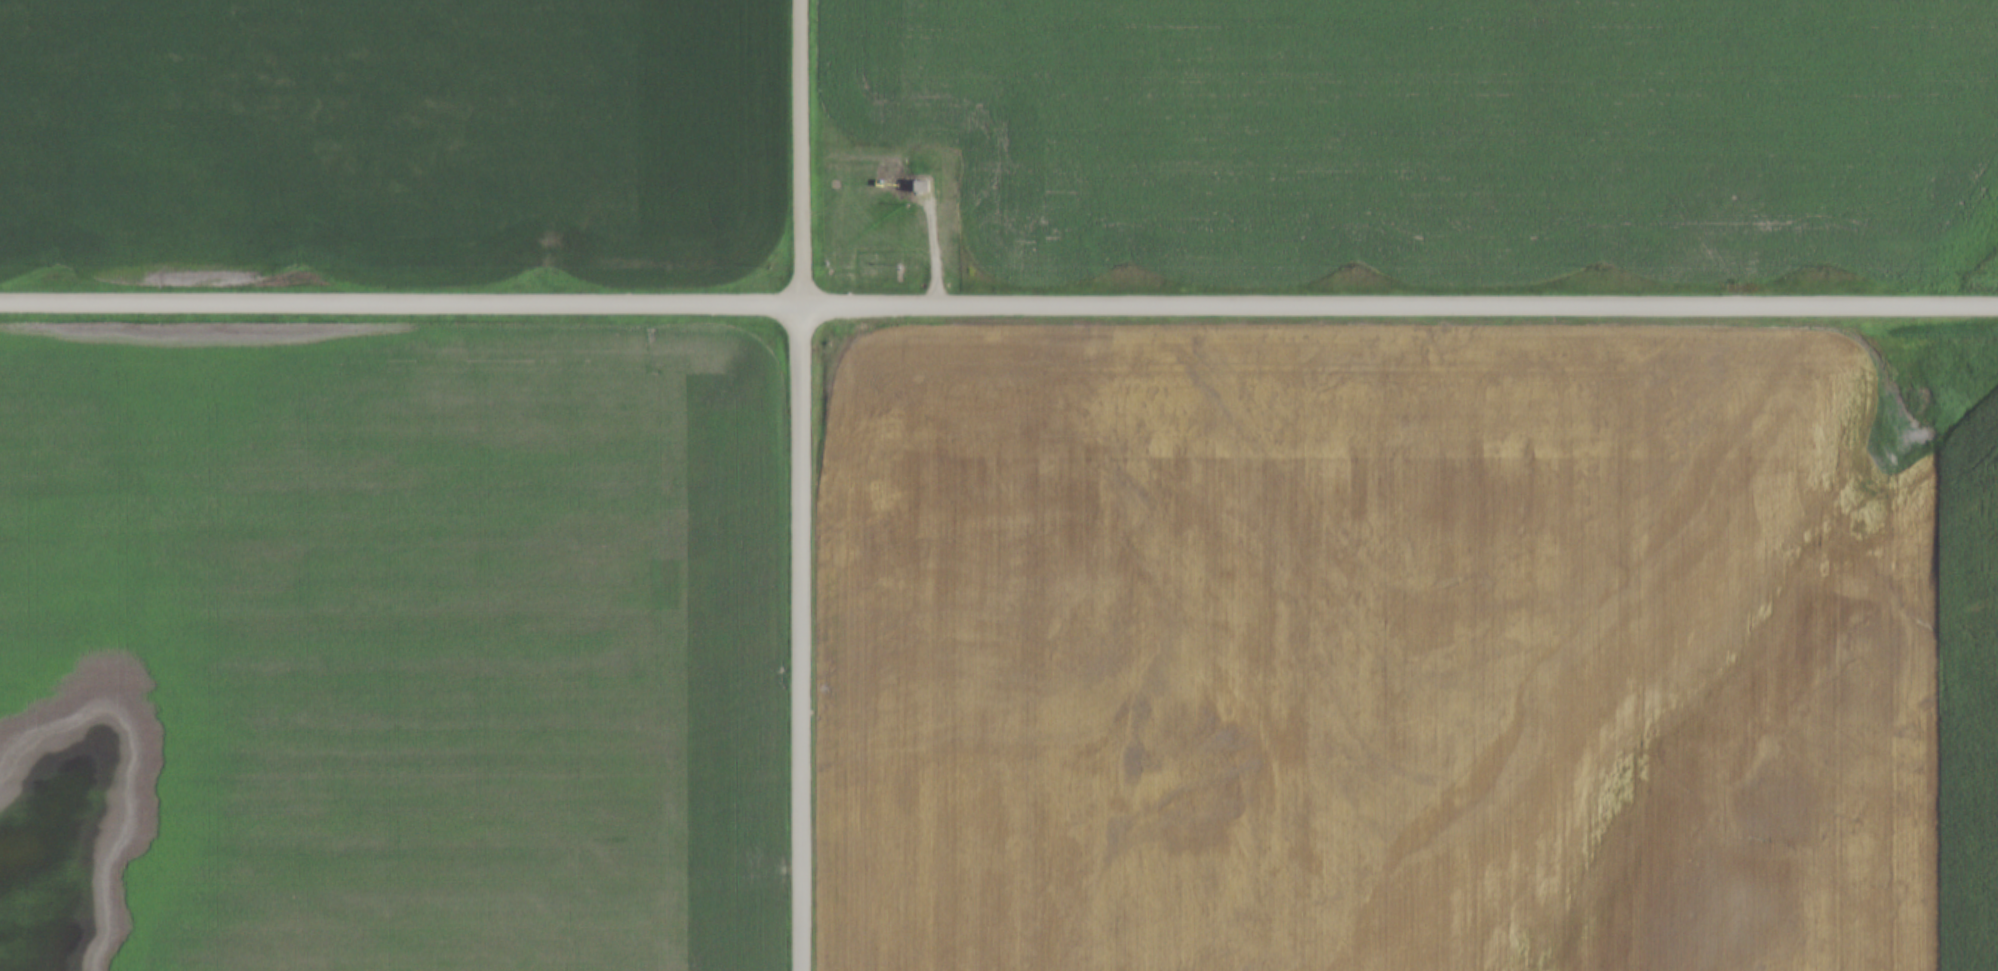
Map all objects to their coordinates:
road: (799, 152)
building: (920, 187)
road: (936, 240)
road: (998, 305)
road: (799, 637)

